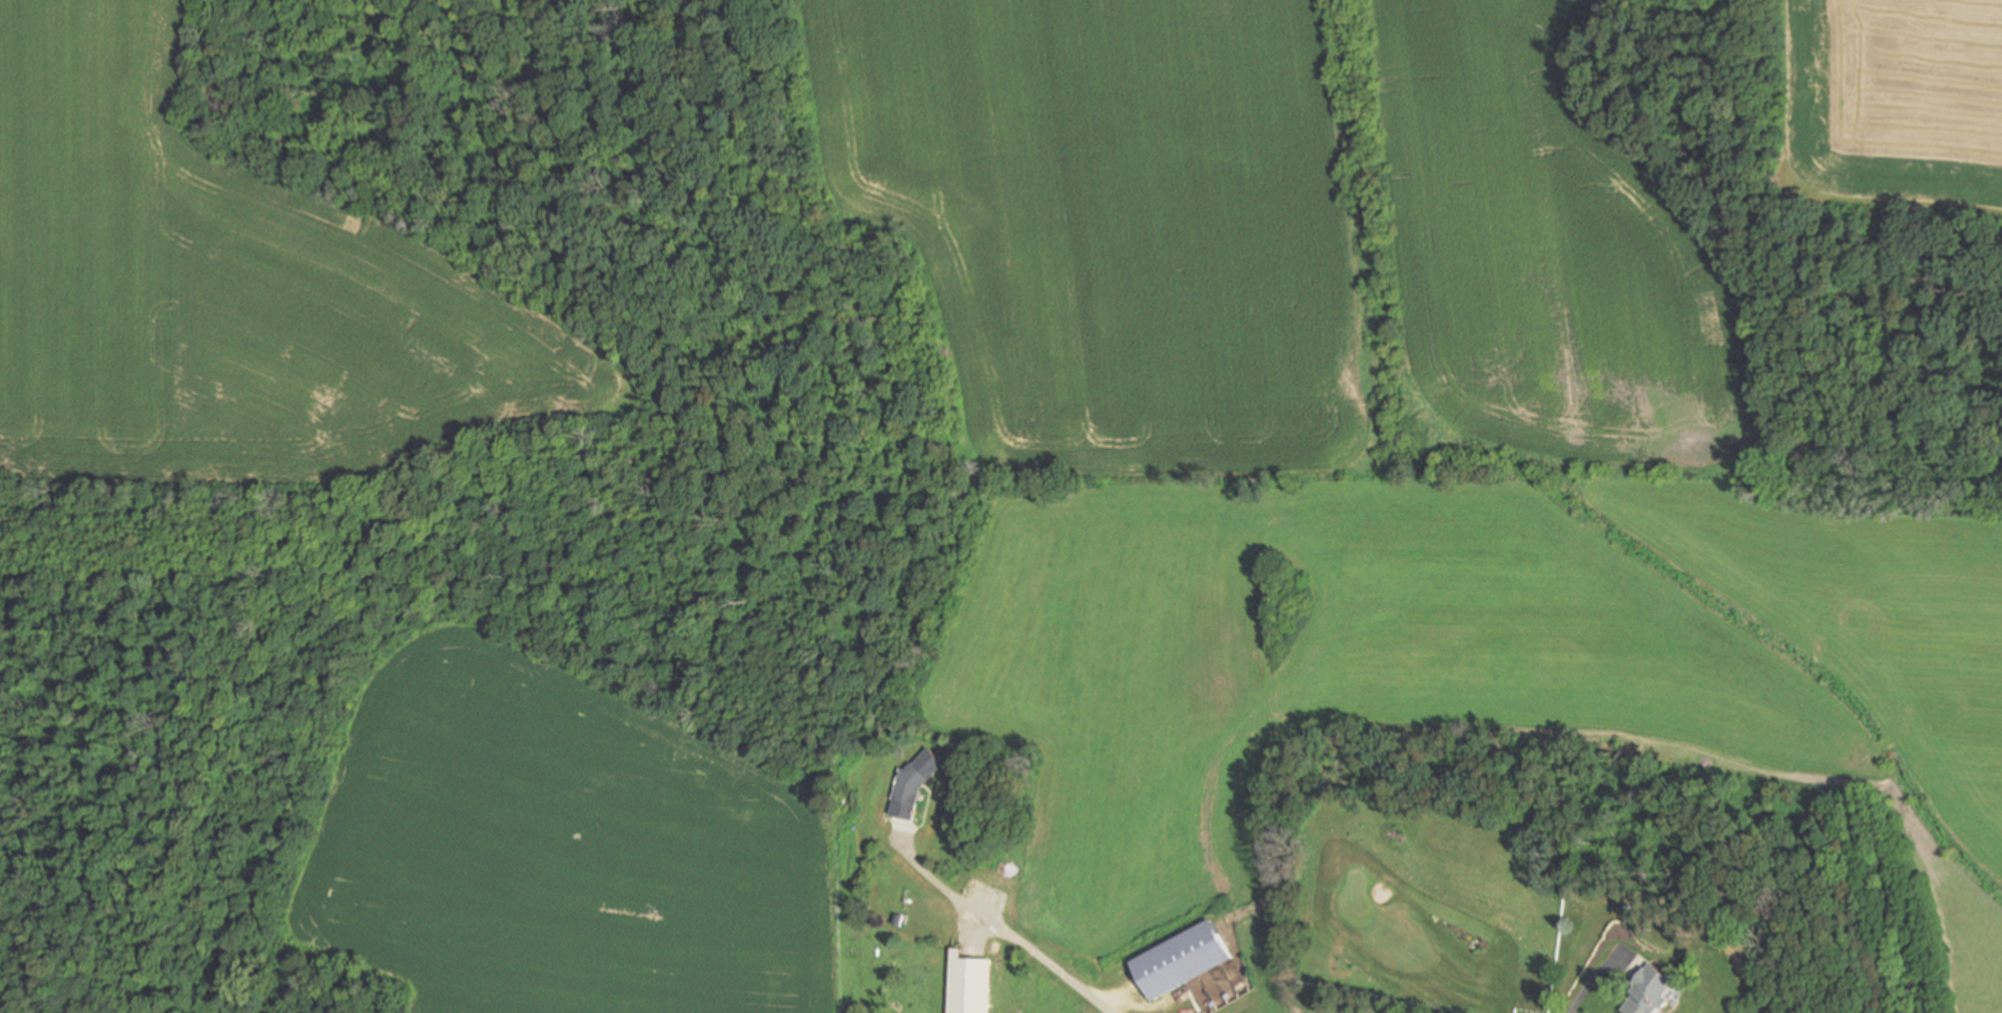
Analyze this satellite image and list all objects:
building: (916, 782)
road: (1006, 931)
building: (1180, 961)
building: (886, 969)
road: (1596, 972)
building: (1488, 974)
building: (969, 983)
building: (1652, 991)

